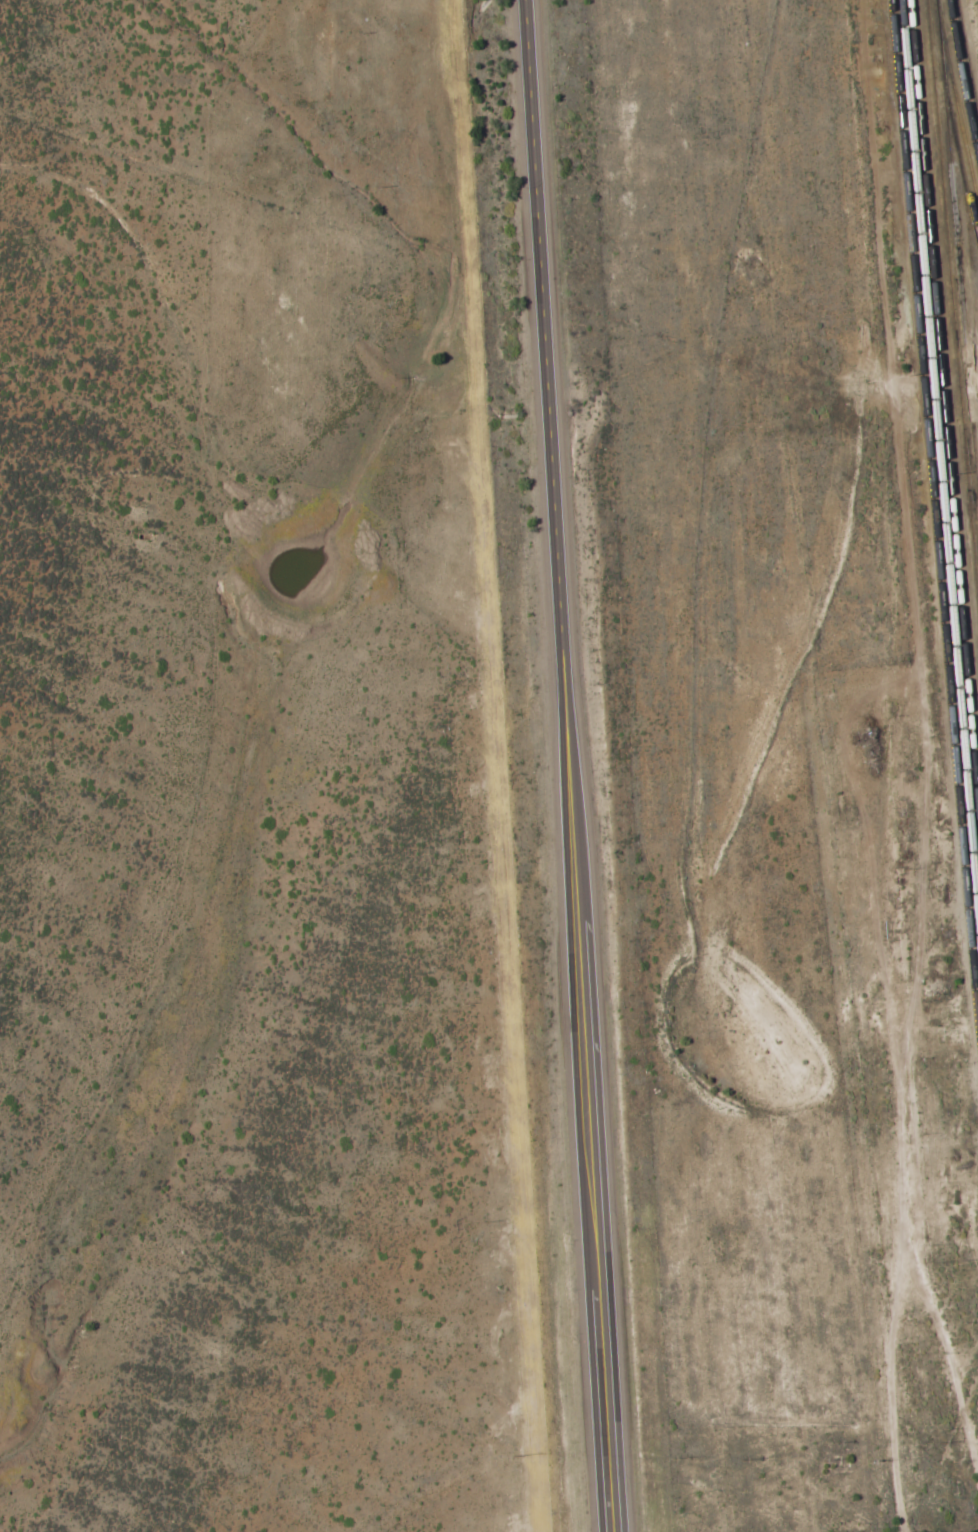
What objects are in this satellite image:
railway: (967, 57)
railway: (962, 81)
railway: (958, 110)
railway: (960, 158)
railway: (958, 240)
railway: (971, 258)
railway: (951, 301)
railway: (942, 400)
railway: (939, 456)
railway: (934, 516)
road: (569, 766)
road: (961, 1397)

